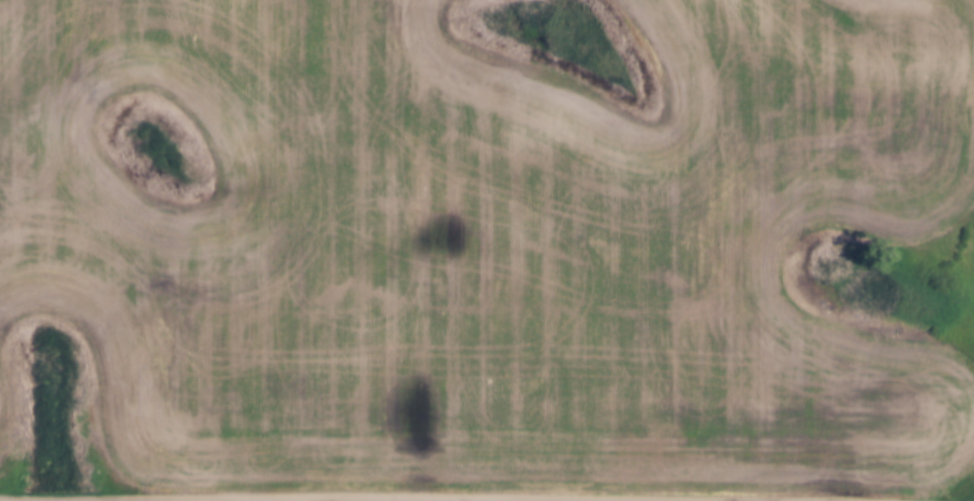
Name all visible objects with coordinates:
road: (432, 494)

